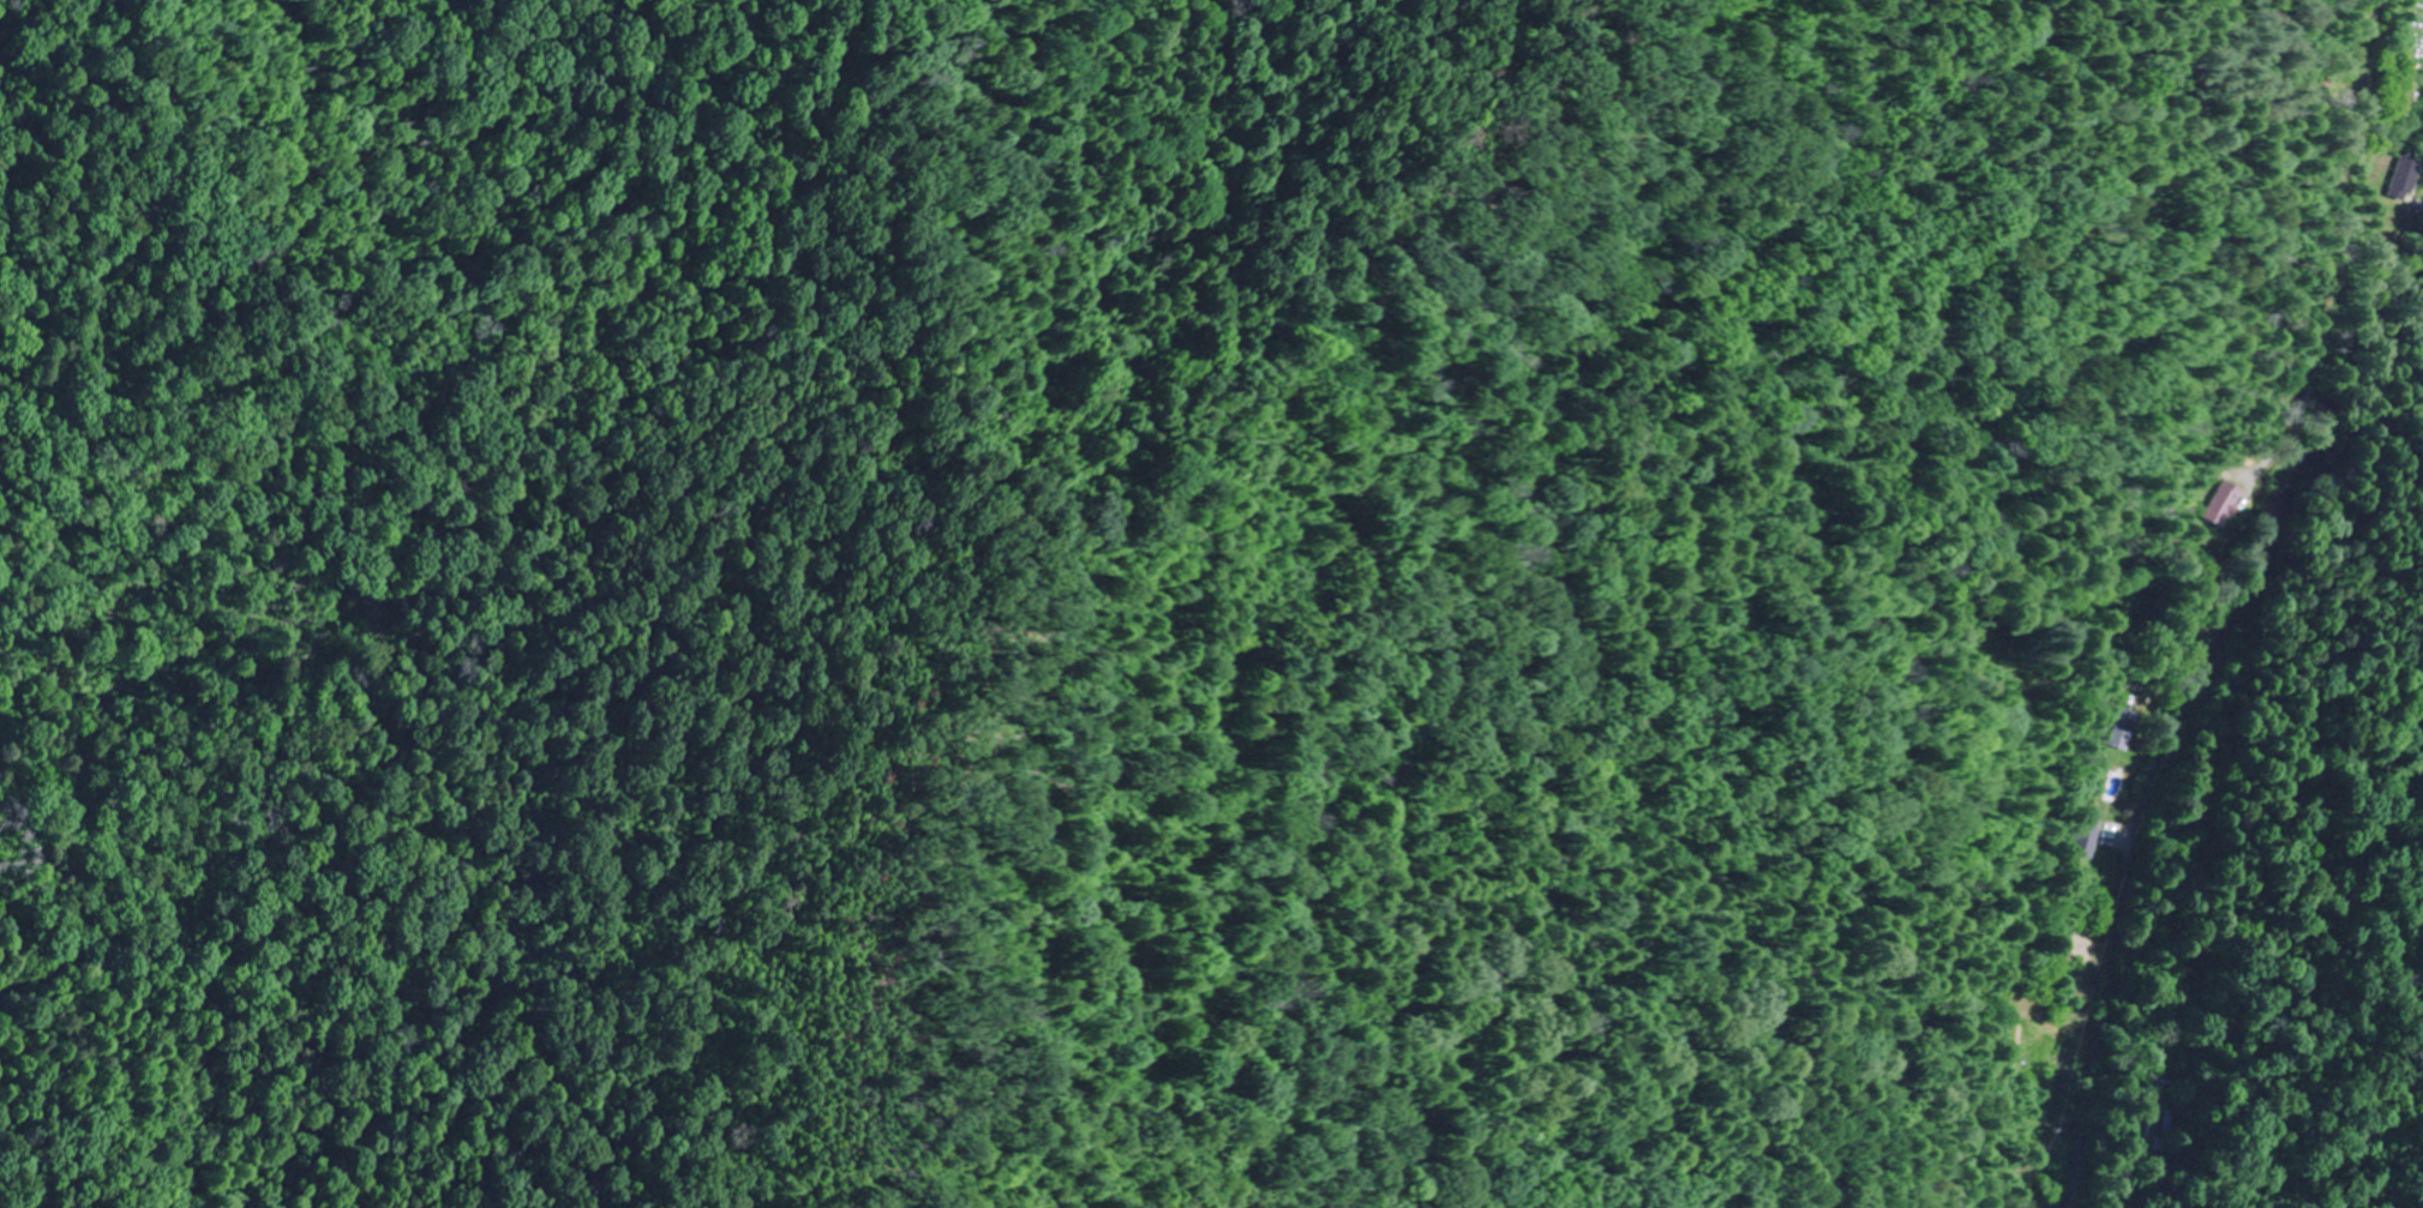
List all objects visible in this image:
building: (2406, 179)
building: (2223, 501)
road: (2187, 703)
building: (2124, 729)
building: (2088, 837)
building: (2056, 1154)
building: (2022, 1204)

